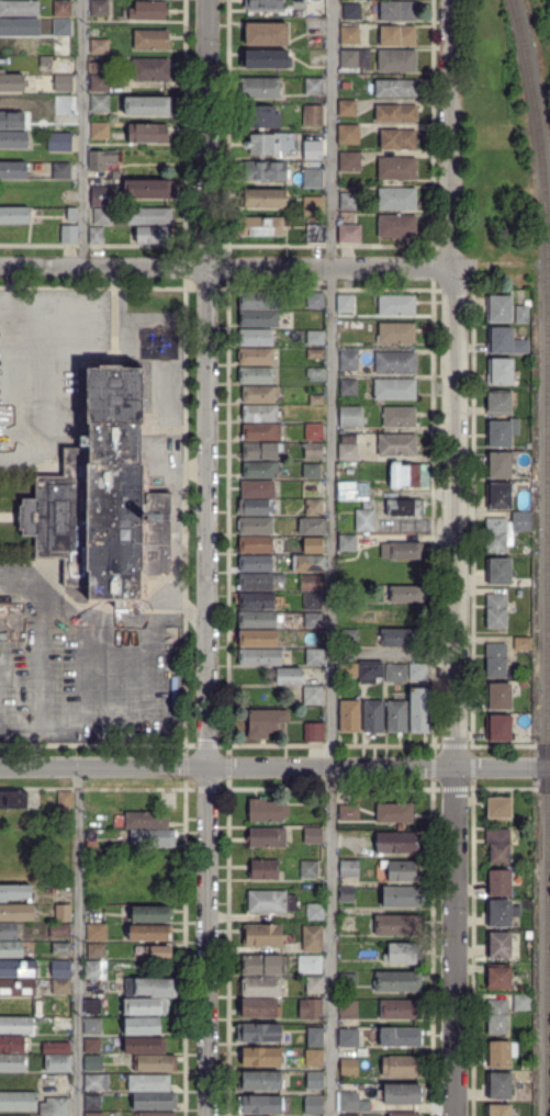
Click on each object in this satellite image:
building: (299, 1)
building: (262, 3)
building: (61, 8)
building: (98, 8)
building: (316, 8)
building: (19, 9)
building: (147, 11)
building: (351, 11)
building: (397, 11)
building: (60, 26)
building: (19, 27)
building: (267, 34)
building: (349, 35)
building: (397, 36)
building: (149, 40)
building: (98, 46)
building: (316, 58)
building: (45, 59)
building: (265, 59)
building: (349, 59)
building: (396, 60)
building: (97, 67)
building: (149, 69)
building: (63, 81)
building: (12, 82)
building: (100, 83)
building: (345, 86)
building: (313, 87)
building: (259, 88)
building: (395, 88)
building: (99, 103)
building: (63, 104)
building: (148, 105)
building: (346, 108)
building: (395, 113)
building: (315, 115)
building: (258, 117)
building: (11, 120)
railway: (537, 122)
building: (99, 131)
road: (82, 133)
building: (147, 133)
road: (207, 133)
building: (348, 134)
building: (397, 138)
building: (13, 139)
building: (58, 140)
building: (261, 145)
building: (313, 148)
building: (100, 159)
building: (349, 161)
building: (395, 168)
building: (59, 170)
building: (262, 170)
building: (12, 171)
building: (311, 178)
building: (148, 188)
building: (102, 196)
building: (64, 198)
building: (261, 198)
building: (396, 199)
building: (347, 201)
building: (313, 205)
building: (13, 214)
building: (71, 214)
building: (102, 216)
building: (149, 217)
building: (396, 226)
building: (259, 227)
building: (315, 234)
building: (347, 234)
building: (68, 235)
building: (96, 236)
building: (155, 236)
road: (225, 267)
building: (258, 301)
building: (316, 302)
building: (345, 303)
building: (396, 305)
building: (498, 308)
building: (521, 314)
building: (257, 319)
building: (395, 332)
building: (314, 337)
building: (255, 338)
building: (504, 342)
road: (7, 352)
building: (315, 353)
building: (255, 357)
building: (348, 362)
building: (395, 362)
parking lot: (44, 372)
building: (501, 372)
building: (314, 373)
building: (255, 375)
road: (451, 382)
building: (348, 387)
building: (394, 390)
building: (259, 394)
building: (316, 399)
building: (500, 403)
building: (259, 414)
building: (349, 416)
building: (399, 417)
building: (261, 432)
building: (314, 432)
building: (501, 432)
building: (397, 446)
building: (528, 446)
building: (261, 450)
building: (313, 451)
building: (348, 452)
parking lot: (164, 461)
building: (497, 465)
building: (260, 470)
building: (310, 470)
building: (403, 475)
building: (257, 489)
building: (346, 489)
building: (497, 496)
building: (102, 498)
building: (314, 505)
building: (251, 506)
building: (404, 507)
building: (364, 518)
building: (521, 521)
building: (255, 526)
building: (312, 526)
building: (495, 536)
building: (347, 543)
building: (255, 544)
building: (313, 544)
building: (405, 550)
road: (332, 557)
building: (255, 564)
building: (310, 564)
building: (498, 571)
building: (311, 582)
building: (258, 583)
building: (407, 594)
building: (256, 601)
building: (312, 601)
building: (495, 611)
building: (312, 619)
building: (256, 620)
building: (348, 634)
building: (400, 638)
building: (256, 639)
building: (311, 639)
building: (520, 642)
road: (393, 652)
parking lot: (86, 653)
building: (315, 656)
building: (259, 657)
building: (496, 661)
building: (348, 669)
building: (370, 672)
building: (417, 672)
road: (19, 673)
building: (395, 673)
building: (288, 676)
railway: (548, 680)
road: (207, 691)
building: (312, 695)
building: (498, 696)
building: (419, 710)
building: (349, 717)
building: (372, 717)
building: (396, 717)
building: (265, 722)
building: (498, 729)
building: (312, 732)
road: (274, 766)
building: (64, 799)
building: (12, 800)
building: (101, 801)
building: (498, 808)
building: (266, 810)
building: (345, 810)
building: (393, 811)
building: (147, 820)
building: (312, 835)
building: (266, 836)
building: (153, 837)
building: (349, 839)
building: (396, 843)
building: (497, 844)
building: (524, 861)
building: (308, 868)
building: (349, 868)
building: (263, 869)
building: (402, 871)
building: (498, 882)
building: (527, 890)
building: (13, 892)
building: (61, 892)
building: (347, 893)
building: (402, 897)
building: (272, 901)
building: (524, 902)
building: (15, 912)
building: (61, 912)
building: (314, 912)
building: (501, 912)
building: (149, 914)
building: (397, 925)
building: (8, 929)
building: (59, 929)
building: (96, 932)
building: (150, 933)
building: (262, 935)
building: (312, 938)
road: (78, 940)
road: (454, 940)
building: (498, 945)
building: (10, 949)
building: (60, 949)
building: (96, 949)
building: (157, 952)
building: (403, 952)
building: (310, 963)
building: (261, 965)
building: (18, 969)
building: (94, 969)
building: (60, 970)
building: (347, 978)
building: (498, 978)
building: (396, 981)
building: (314, 984)
building: (60, 985)
building: (16, 987)
building: (260, 987)
building: (151, 988)
building: (521, 1002)
building: (91, 1005)
building: (257, 1006)
building: (144, 1007)
building: (310, 1008)
building: (348, 1008)
building: (400, 1010)
building: (496, 1017)
building: (61, 1024)
building: (15, 1025)
building: (92, 1025)
building: (141, 1026)
building: (259, 1032)
building: (400, 1036)
building: (314, 1037)
building: (348, 1037)
building: (11, 1044)
building: (91, 1045)
building: (144, 1046)
building: (61, 1048)
building: (500, 1052)
building: (260, 1057)
building: (314, 1057)
building: (11, 1062)
building: (92, 1062)
building: (155, 1062)
building: (57, 1063)
building: (348, 1066)
building: (401, 1066)
building: (525, 1066)
building: (259, 1080)
building: (314, 1080)
building: (93, 1082)
building: (147, 1082)
building: (498, 1084)
building: (400, 1094)
building: (18, 1101)
building: (154, 1101)
building: (348, 1101)
building: (92, 1102)
building: (259, 1105)
building: (313, 1105)
building: (59, 1107)
building: (497, 1111)
building: (155, 1114)
building: (403, 1114)
building: (20, 1115)
building: (93, 1115)
building: (348, 1115)

